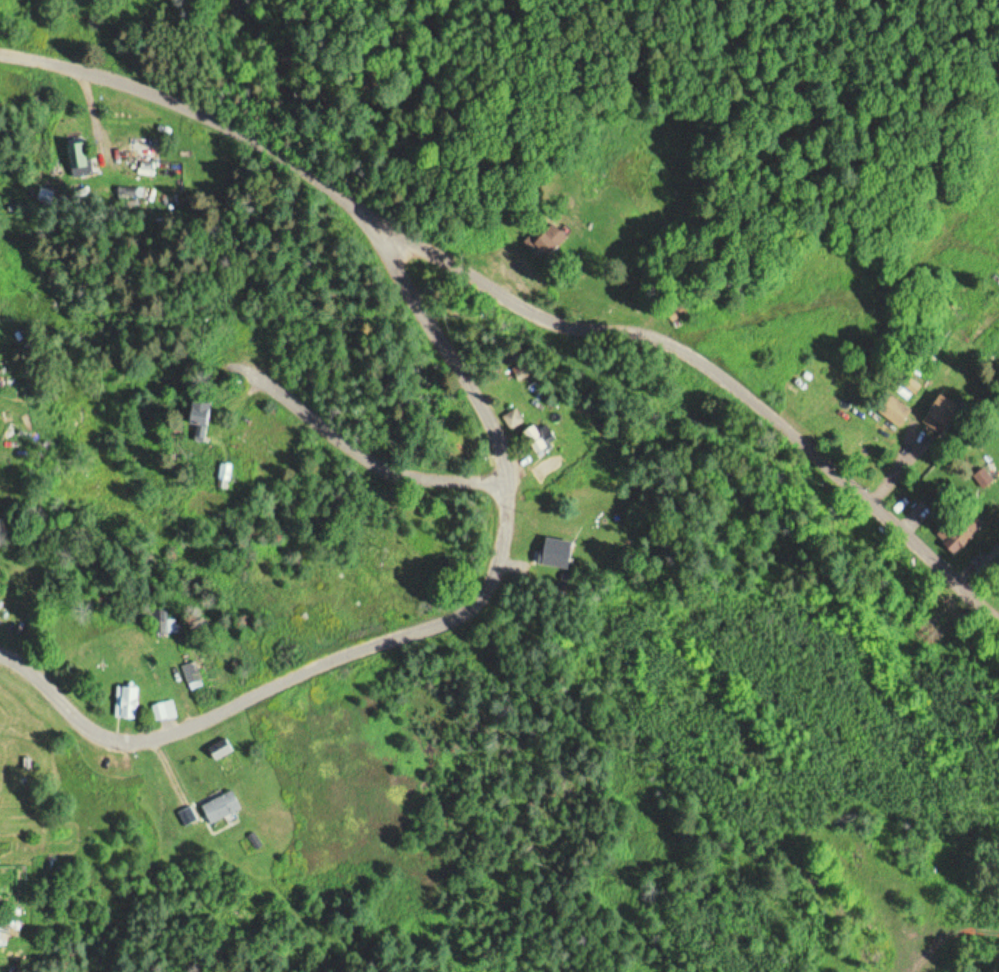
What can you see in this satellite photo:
building: (80, 160)
building: (549, 240)
road: (517, 300)
building: (897, 411)
building: (945, 415)
building: (514, 418)
building: (203, 419)
building: (534, 434)
road: (357, 456)
building: (955, 536)
building: (987, 562)
building: (164, 626)
road: (417, 627)
building: (192, 674)
building: (128, 703)
building: (165, 711)
building: (222, 749)
building: (26, 771)
building: (225, 806)

